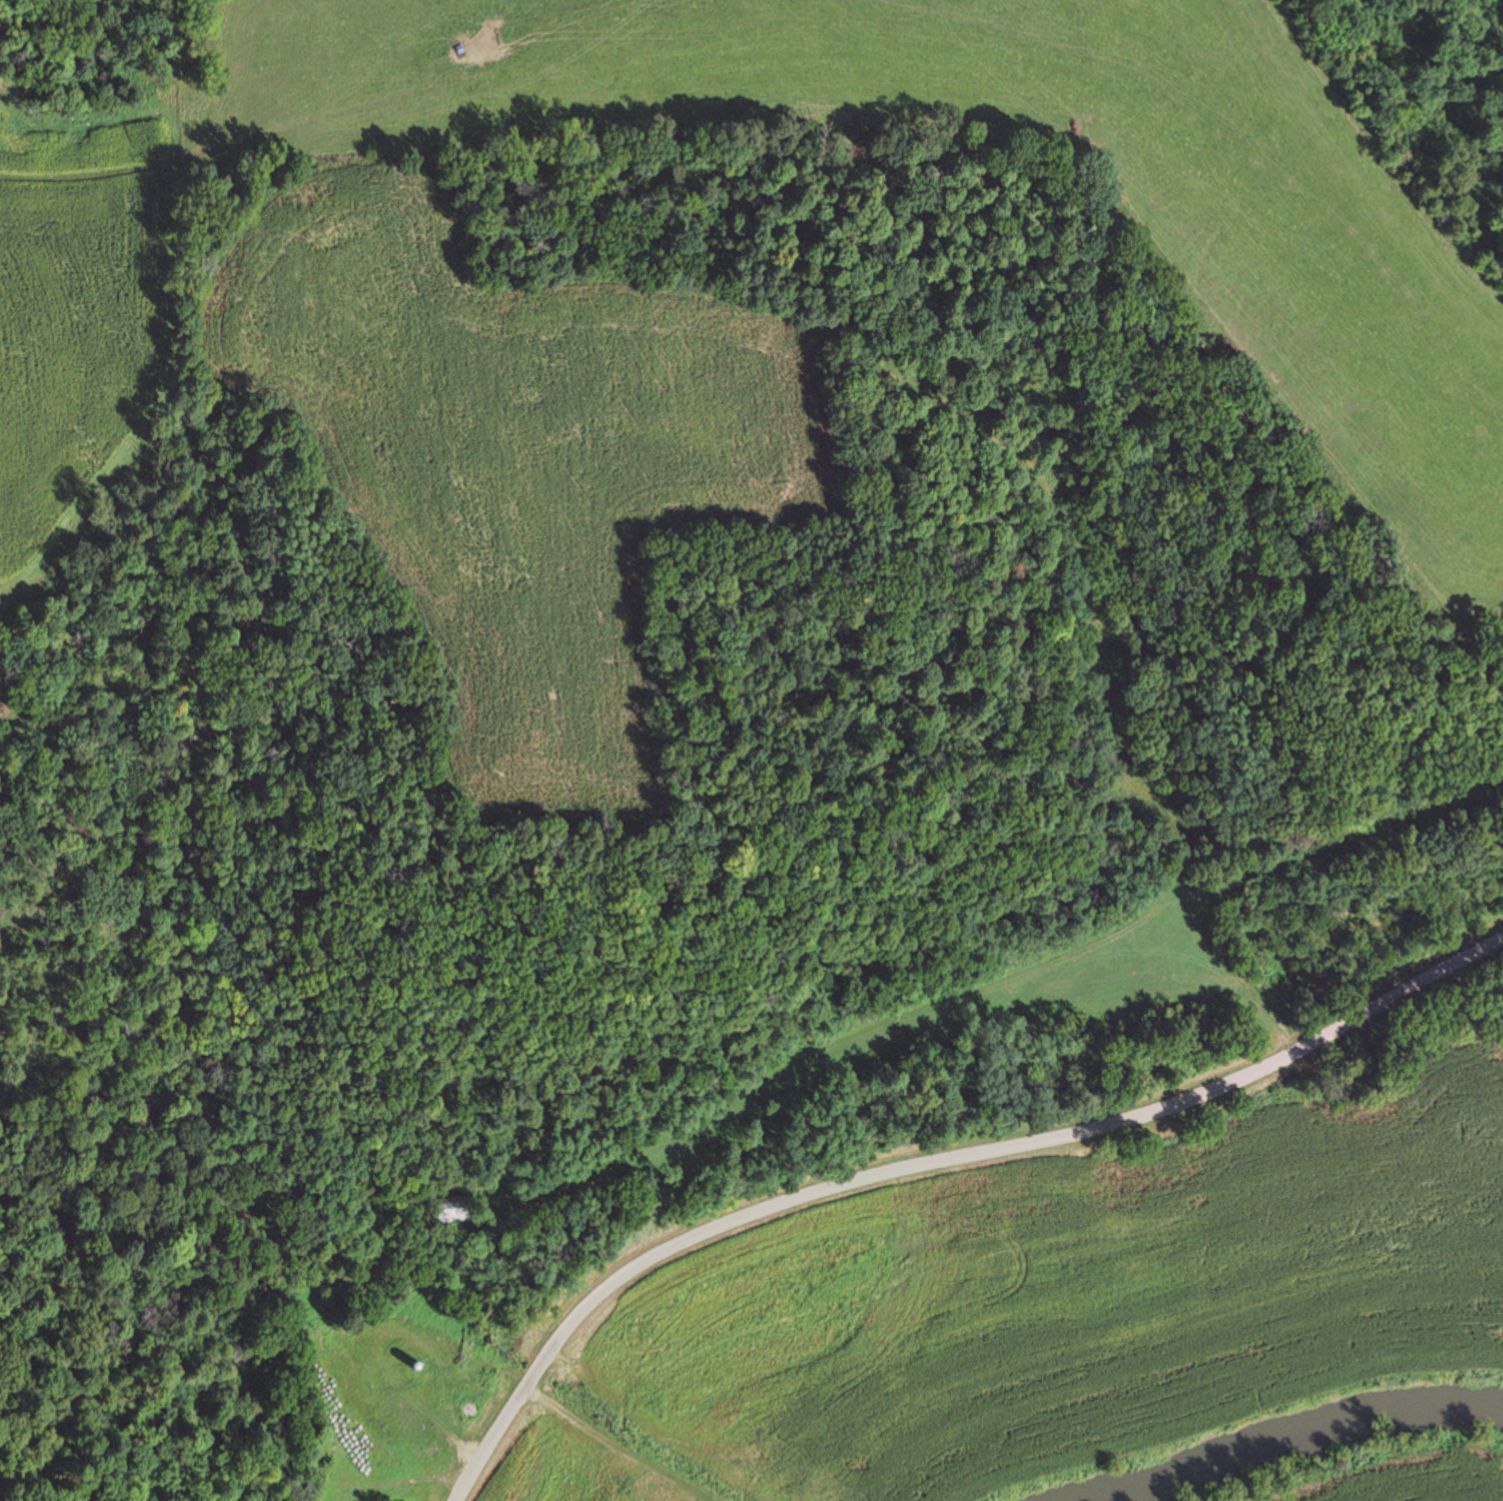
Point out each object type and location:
road: (903, 1149)
building: (452, 1209)
river: (1281, 1447)

